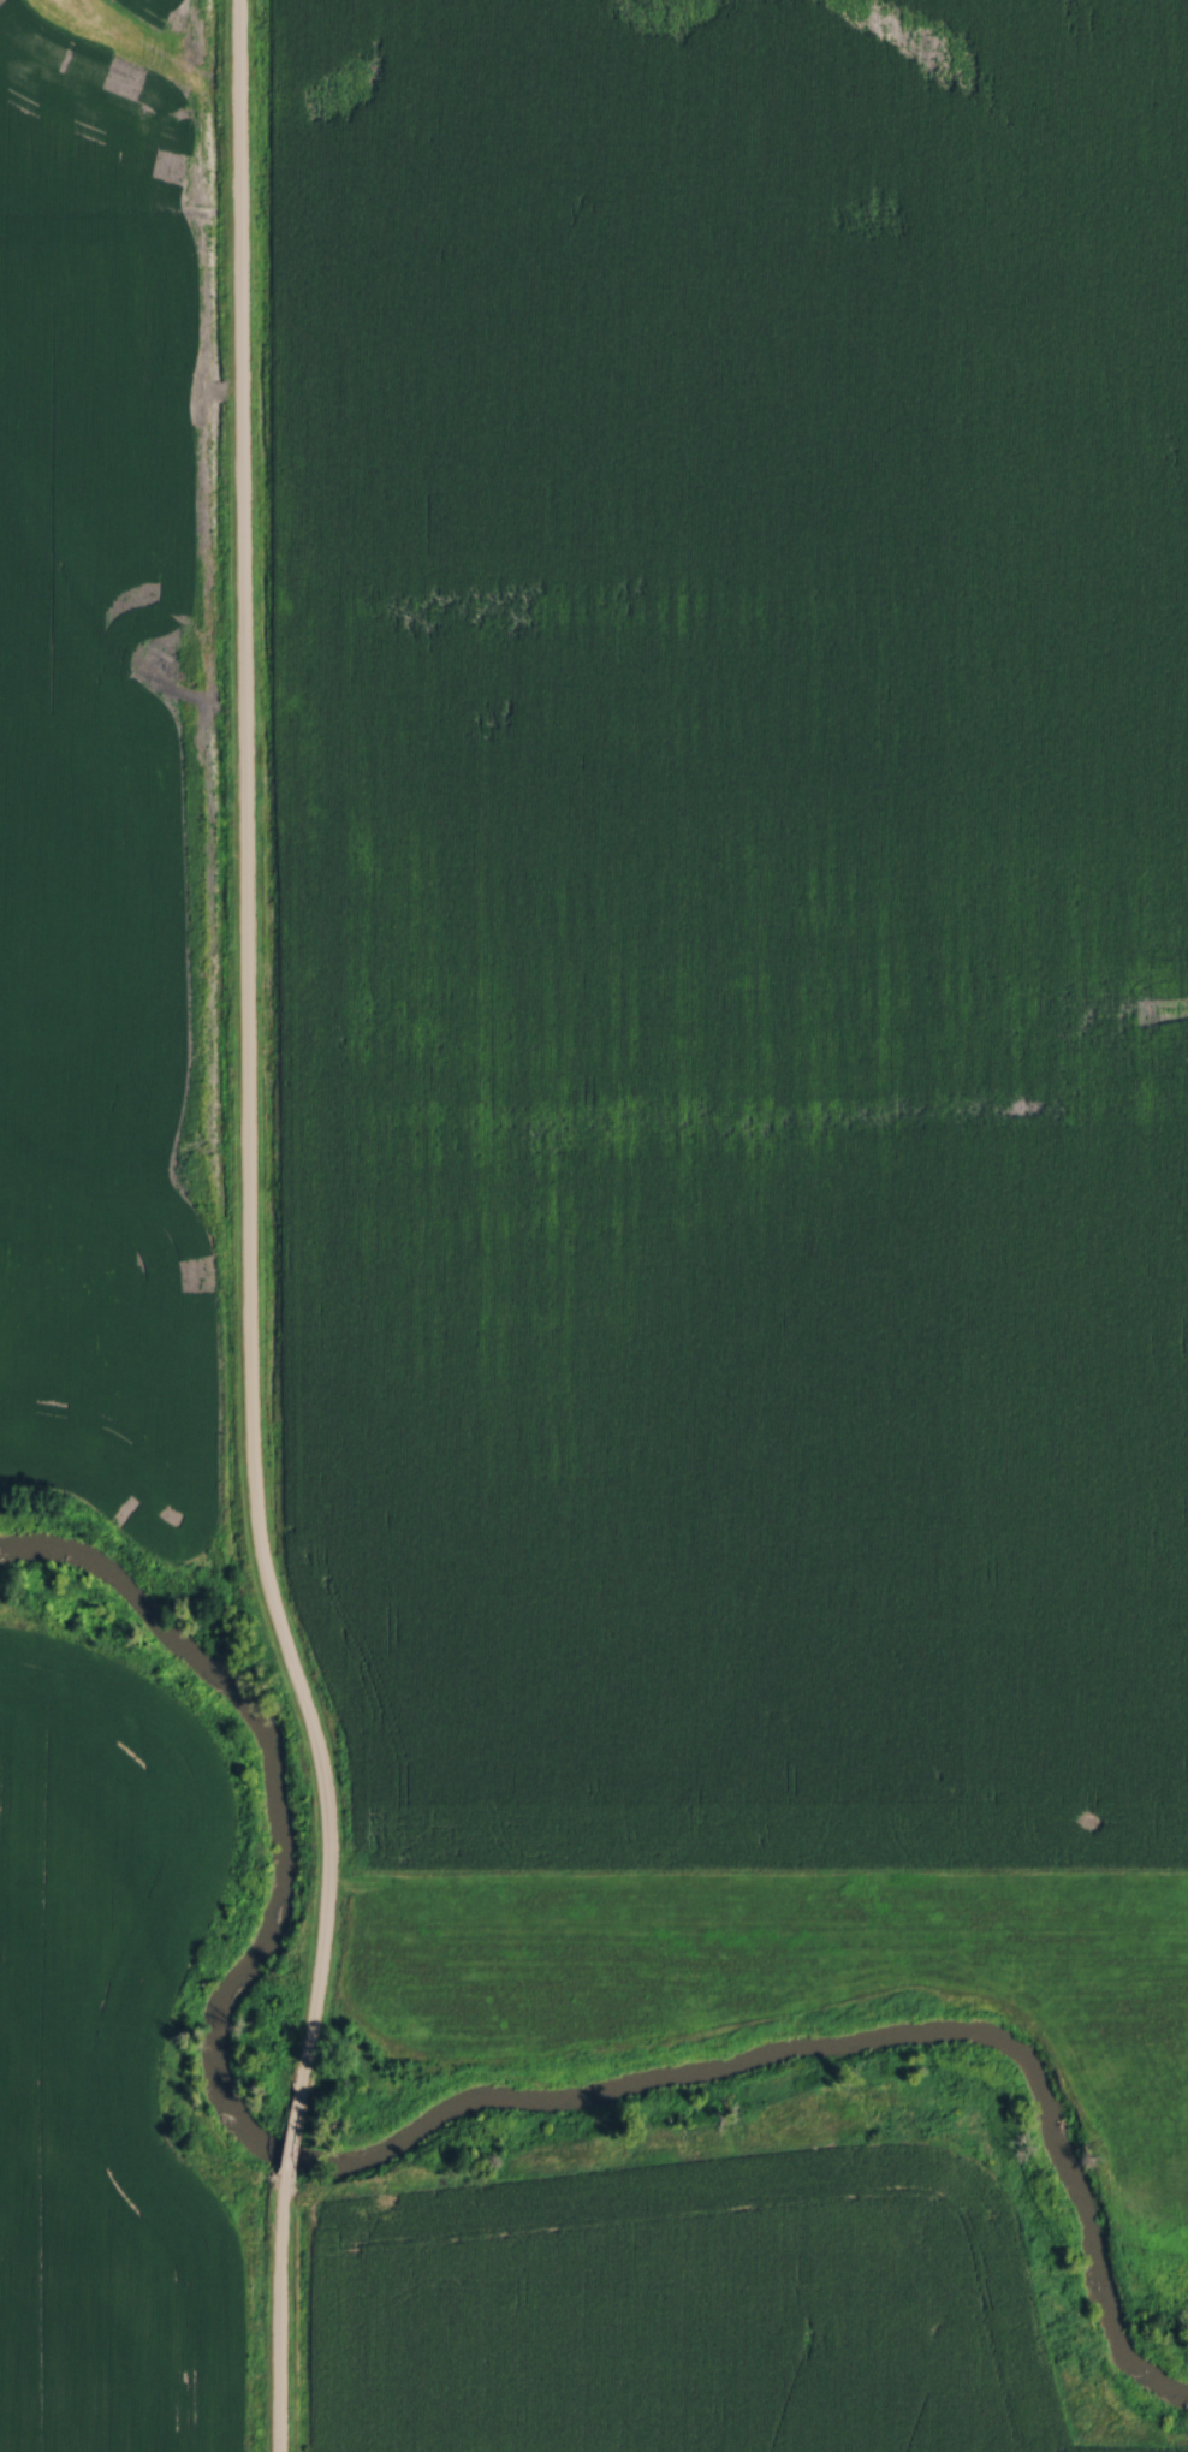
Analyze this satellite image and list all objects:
road: (250, 1049)
river: (446, 2107)
road: (292, 2133)
road: (280, 2314)

